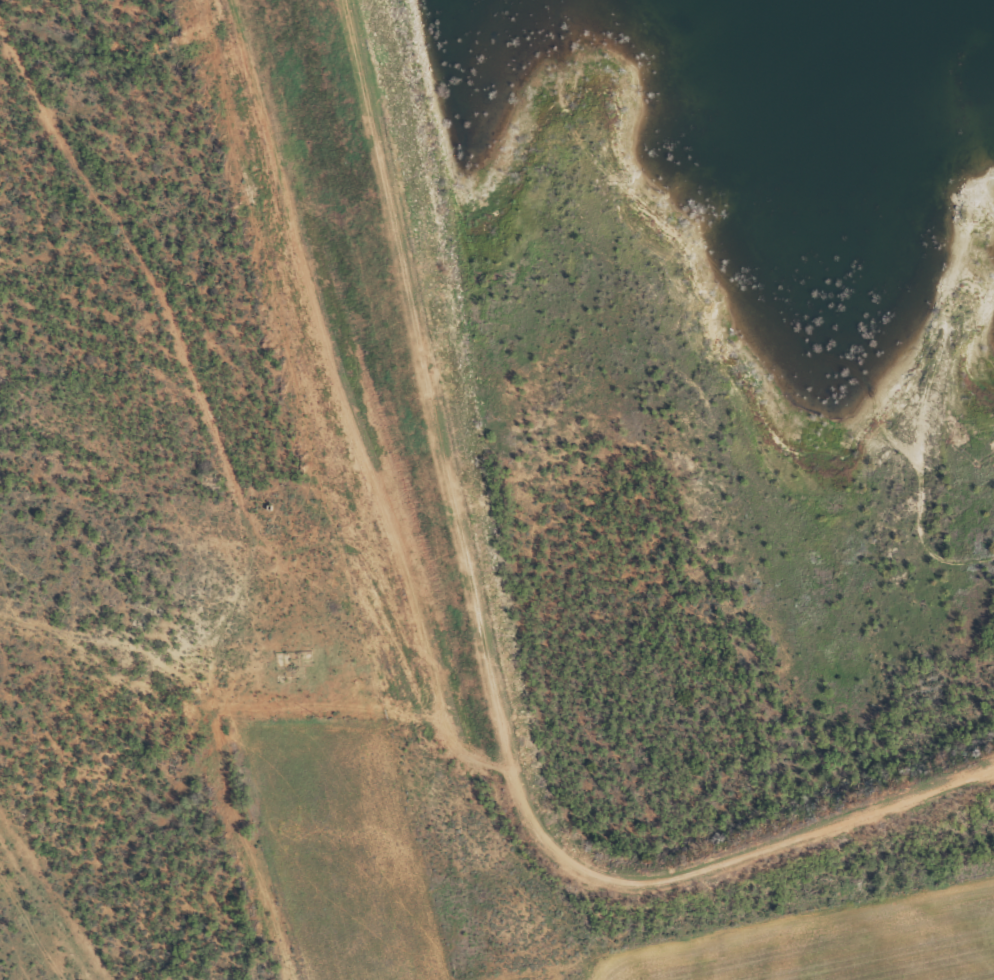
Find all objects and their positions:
road: (180, 332)
road: (948, 542)
road: (206, 730)

